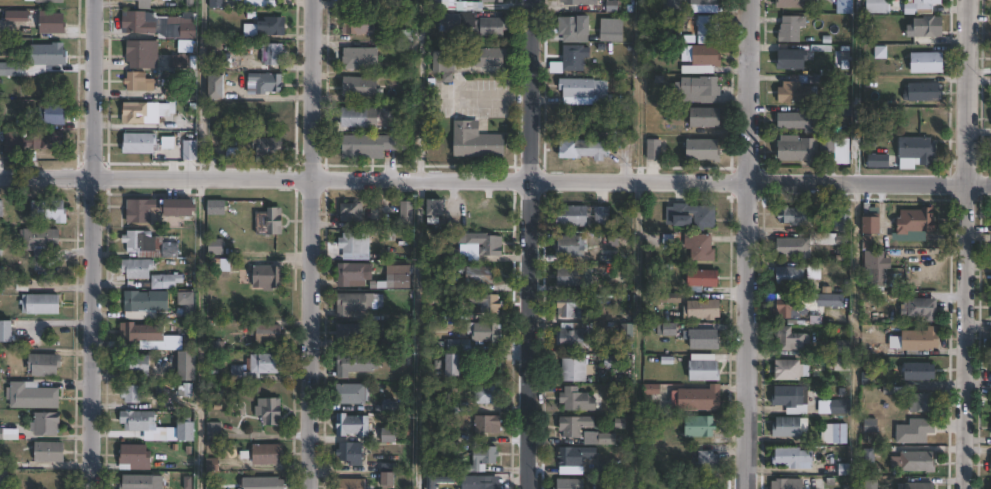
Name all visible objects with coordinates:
building: (356, 0)
building: (494, 0)
building: (51, 1)
building: (929, 1)
building: (579, 2)
building: (707, 2)
building: (260, 3)
building: (798, 3)
building: (146, 4)
building: (217, 4)
building: (443, 5)
building: (879, 7)
building: (452, 20)
building: (139, 22)
building: (53, 23)
building: (357, 24)
building: (273, 25)
building: (492, 26)
building: (929, 26)
building: (188, 27)
building: (577, 28)
building: (708, 28)
building: (792, 28)
building: (613, 30)
building: (252, 31)
building: (220, 34)
building: (143, 53)
building: (274, 53)
building: (49, 54)
building: (360, 57)
building: (492, 57)
building: (572, 59)
building: (704, 59)
building: (794, 59)
building: (181, 61)
building: (444, 61)
building: (929, 62)
building: (14, 68)
building: (139, 82)
building: (268, 82)
building: (217, 86)
building: (358, 86)
road: (93, 89)
building: (698, 89)
building: (801, 89)
road: (420, 90)
building: (586, 91)
road: (856, 91)
building: (926, 92)
building: (141, 113)
building: (53, 114)
building: (707, 116)
building: (361, 117)
building: (800, 121)
building: (47, 139)
building: (477, 140)
building: (140, 143)
building: (16, 145)
building: (369, 145)
building: (269, 146)
building: (805, 147)
building: (586, 148)
building: (705, 149)
building: (190, 150)
building: (918, 151)
building: (654, 154)
building: (880, 160)
road: (495, 181)
building: (180, 207)
building: (438, 207)
building: (216, 208)
building: (1, 209)
building: (141, 209)
building: (50, 210)
building: (356, 212)
building: (409, 212)
building: (604, 214)
building: (573, 216)
building: (693, 216)
building: (792, 216)
building: (841, 218)
building: (270, 221)
building: (913, 221)
building: (868, 224)
building: (41, 238)
building: (822, 239)
building: (356, 243)
building: (151, 244)
road: (308, 244)
road: (530, 244)
road: (745, 244)
road: (965, 244)
building: (482, 245)
building: (572, 246)
building: (217, 247)
building: (701, 247)
building: (790, 248)
building: (215, 264)
building: (870, 264)
building: (139, 268)
building: (352, 273)
building: (478, 274)
building: (576, 276)
building: (269, 277)
building: (790, 277)
building: (704, 280)
building: (167, 281)
building: (397, 281)
building: (829, 301)
building: (485, 303)
building: (42, 304)
building: (145, 304)
building: (355, 304)
building: (787, 306)
building: (569, 307)
building: (918, 308)
building: (705, 309)
building: (668, 329)
building: (6, 331)
building: (142, 332)
building: (486, 332)
road: (91, 334)
building: (268, 334)
building: (354, 334)
road: (420, 335)
road: (856, 335)
building: (574, 336)
building: (628, 336)
building: (704, 339)
building: (918, 339)
building: (789, 340)
building: (990, 342)
building: (181, 343)
building: (455, 345)
building: (355, 364)
building: (843, 364)
building: (45, 365)
building: (136, 365)
building: (265, 365)
building: (454, 365)
building: (188, 366)
building: (578, 370)
building: (706, 370)
building: (990, 370)
building: (788, 371)
building: (238, 372)
building: (917, 372)
building: (654, 389)
building: (132, 393)
building: (352, 394)
building: (33, 396)
building: (489, 396)
building: (699, 398)
building: (788, 399)
building: (579, 400)
building: (990, 400)
building: (919, 403)
building: (841, 407)
building: (270, 411)
building: (138, 420)
building: (47, 424)
building: (488, 424)
building: (576, 425)
building: (989, 425)
building: (352, 426)
building: (702, 426)
building: (784, 428)
building: (215, 431)
building: (912, 431)
building: (187, 432)
building: (6, 434)
building: (832, 434)
building: (390, 435)
building: (600, 438)
building: (352, 453)
building: (267, 454)
building: (50, 455)
building: (866, 456)
building: (135, 458)
building: (484, 459)
building: (576, 459)
building: (790, 459)
building: (708, 462)
building: (910, 462)
building: (989, 464)
building: (840, 470)
building: (4, 477)
building: (386, 477)
building: (436, 481)
building: (142, 482)
building: (485, 482)
building: (265, 483)
building: (352, 484)
building: (571, 484)
building: (784, 484)
building: (990, 484)
building: (707, 486)
building: (915, 486)

